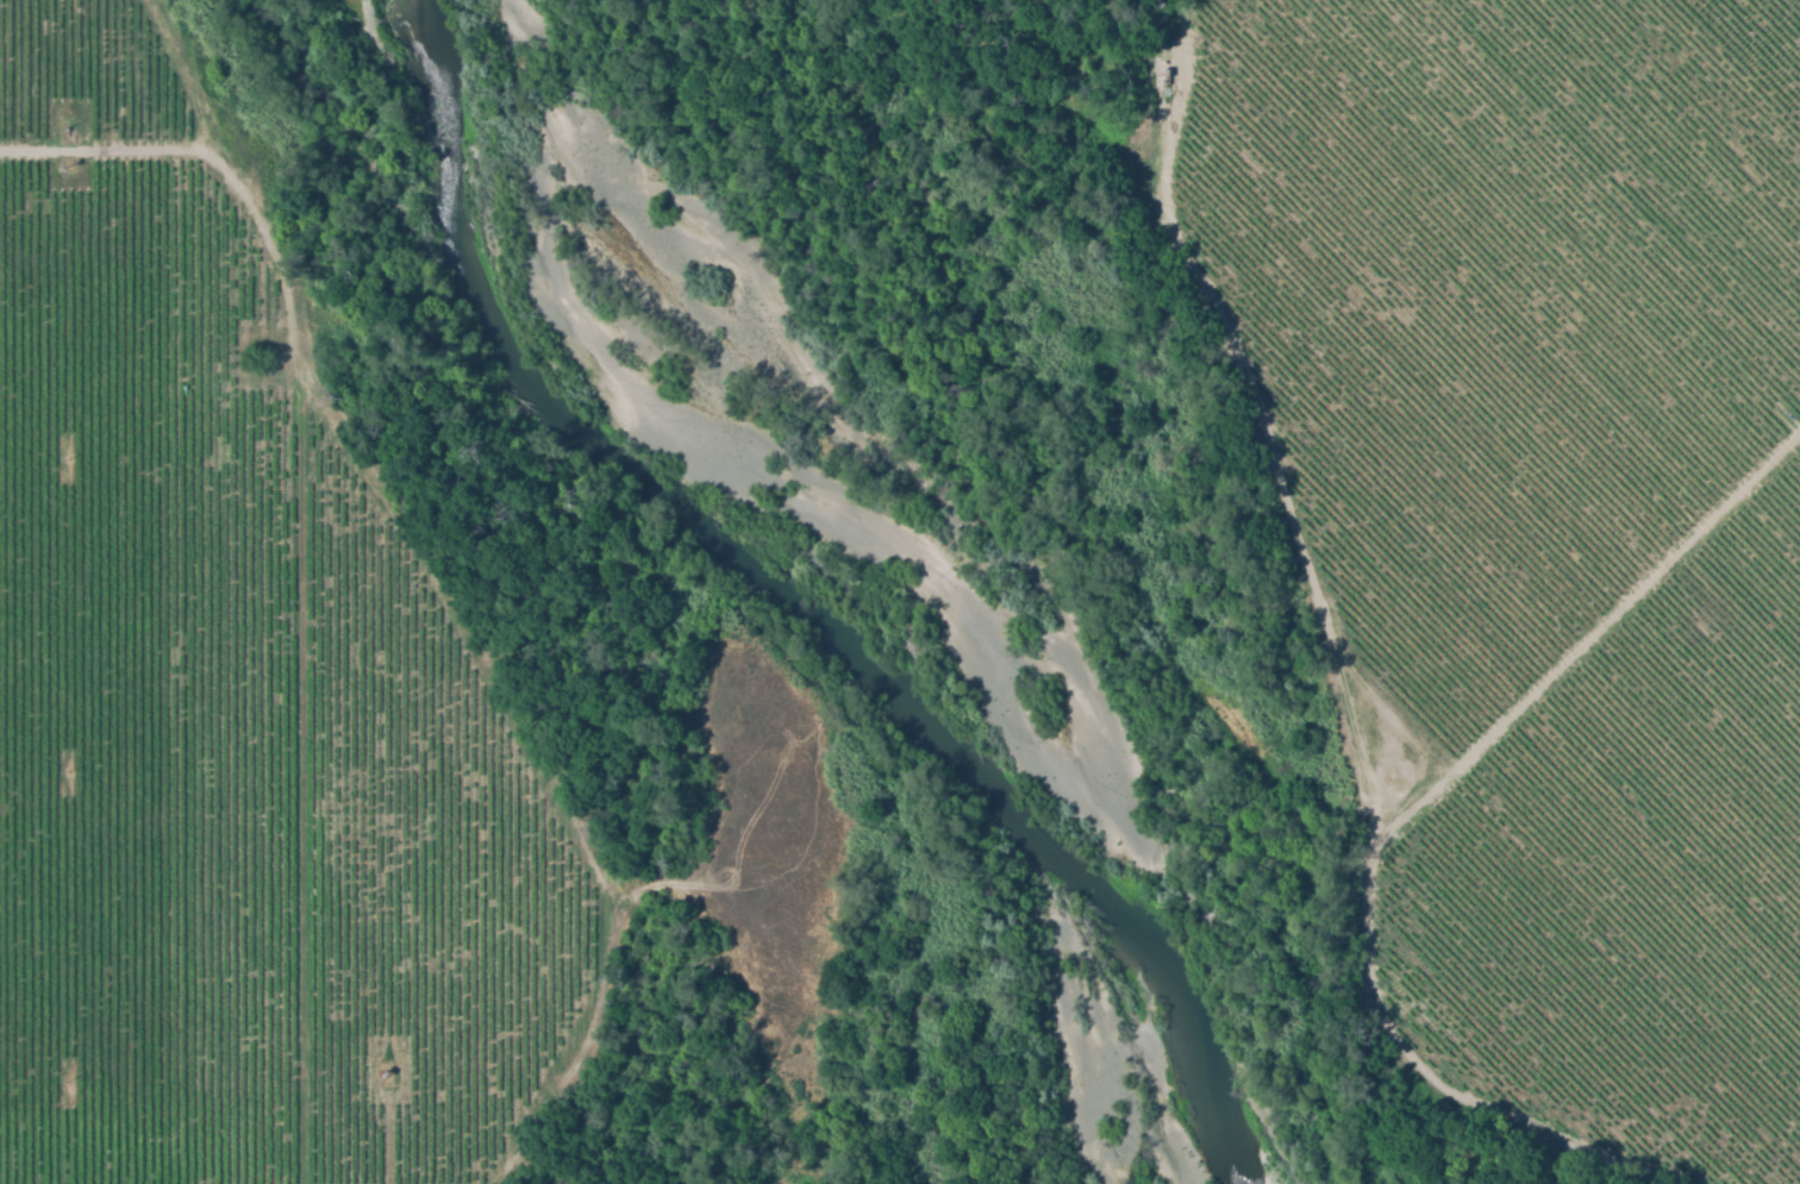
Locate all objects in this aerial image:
river: (788, 610)

